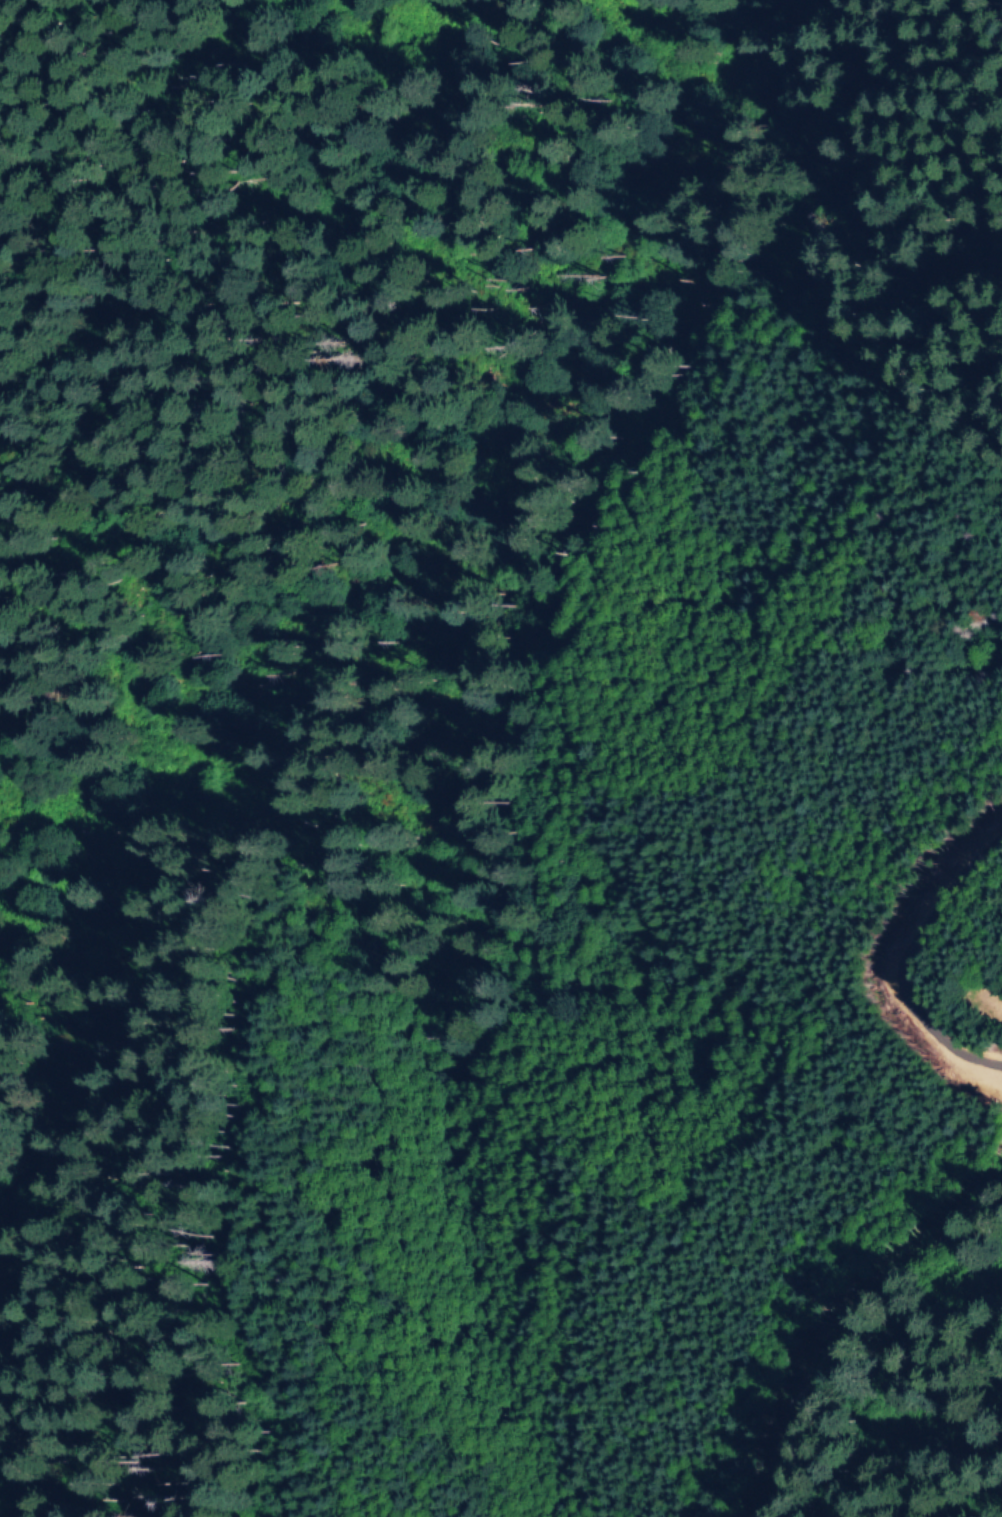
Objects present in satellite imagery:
road: (866, 1312)

